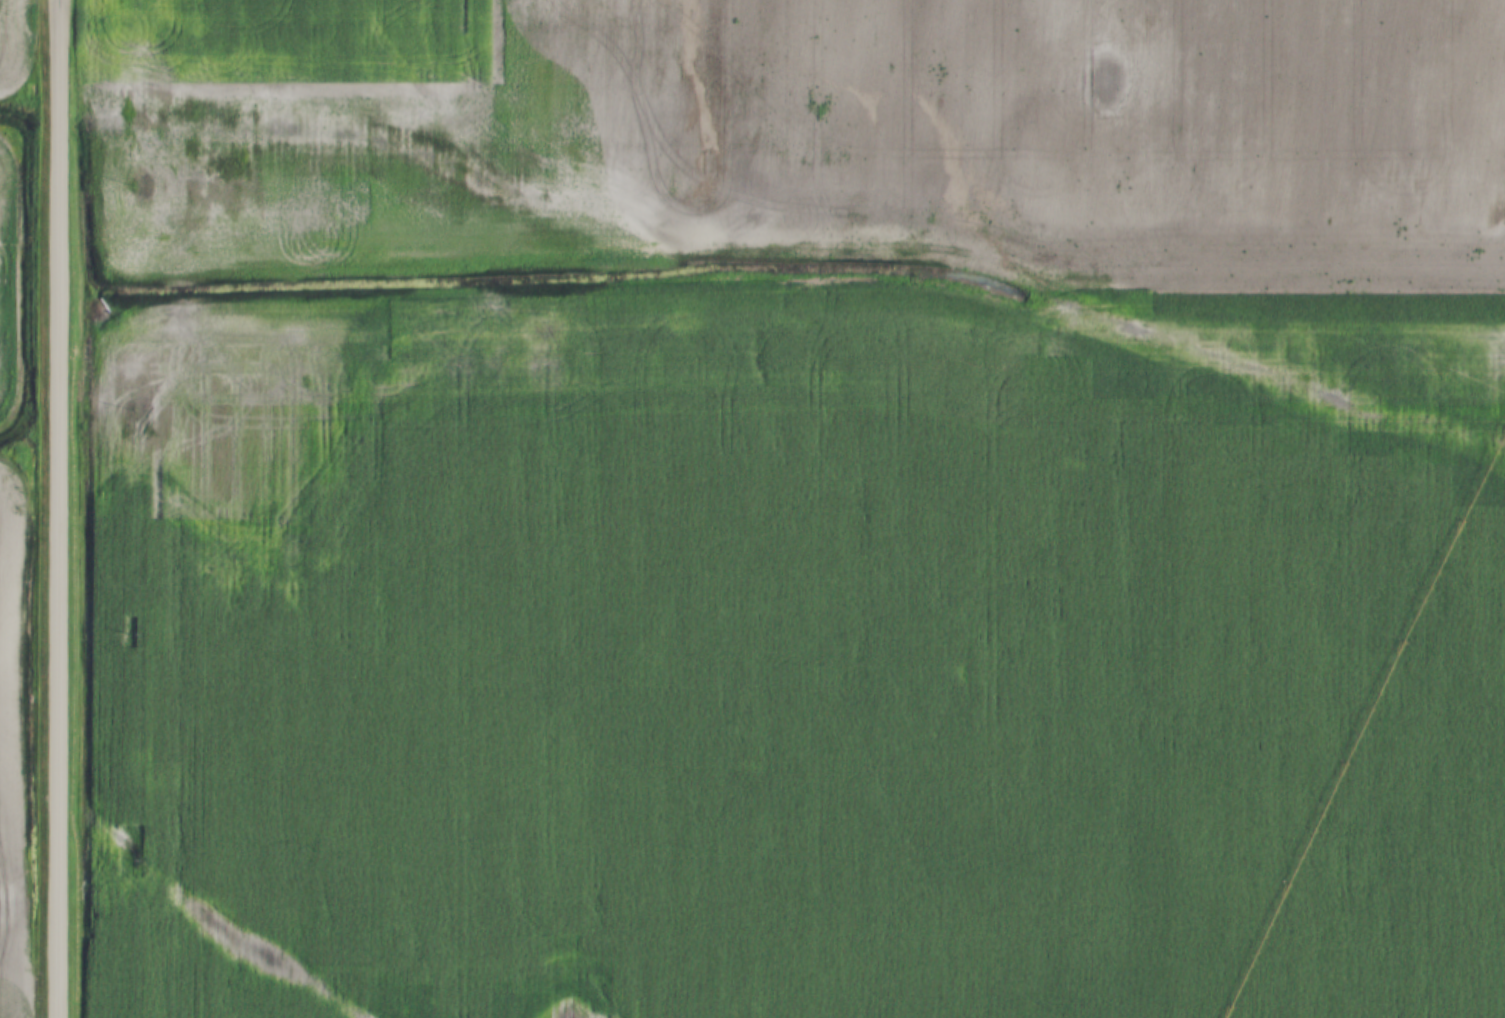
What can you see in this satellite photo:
river: (13, 145)
river: (762, 221)
road: (57, 509)

